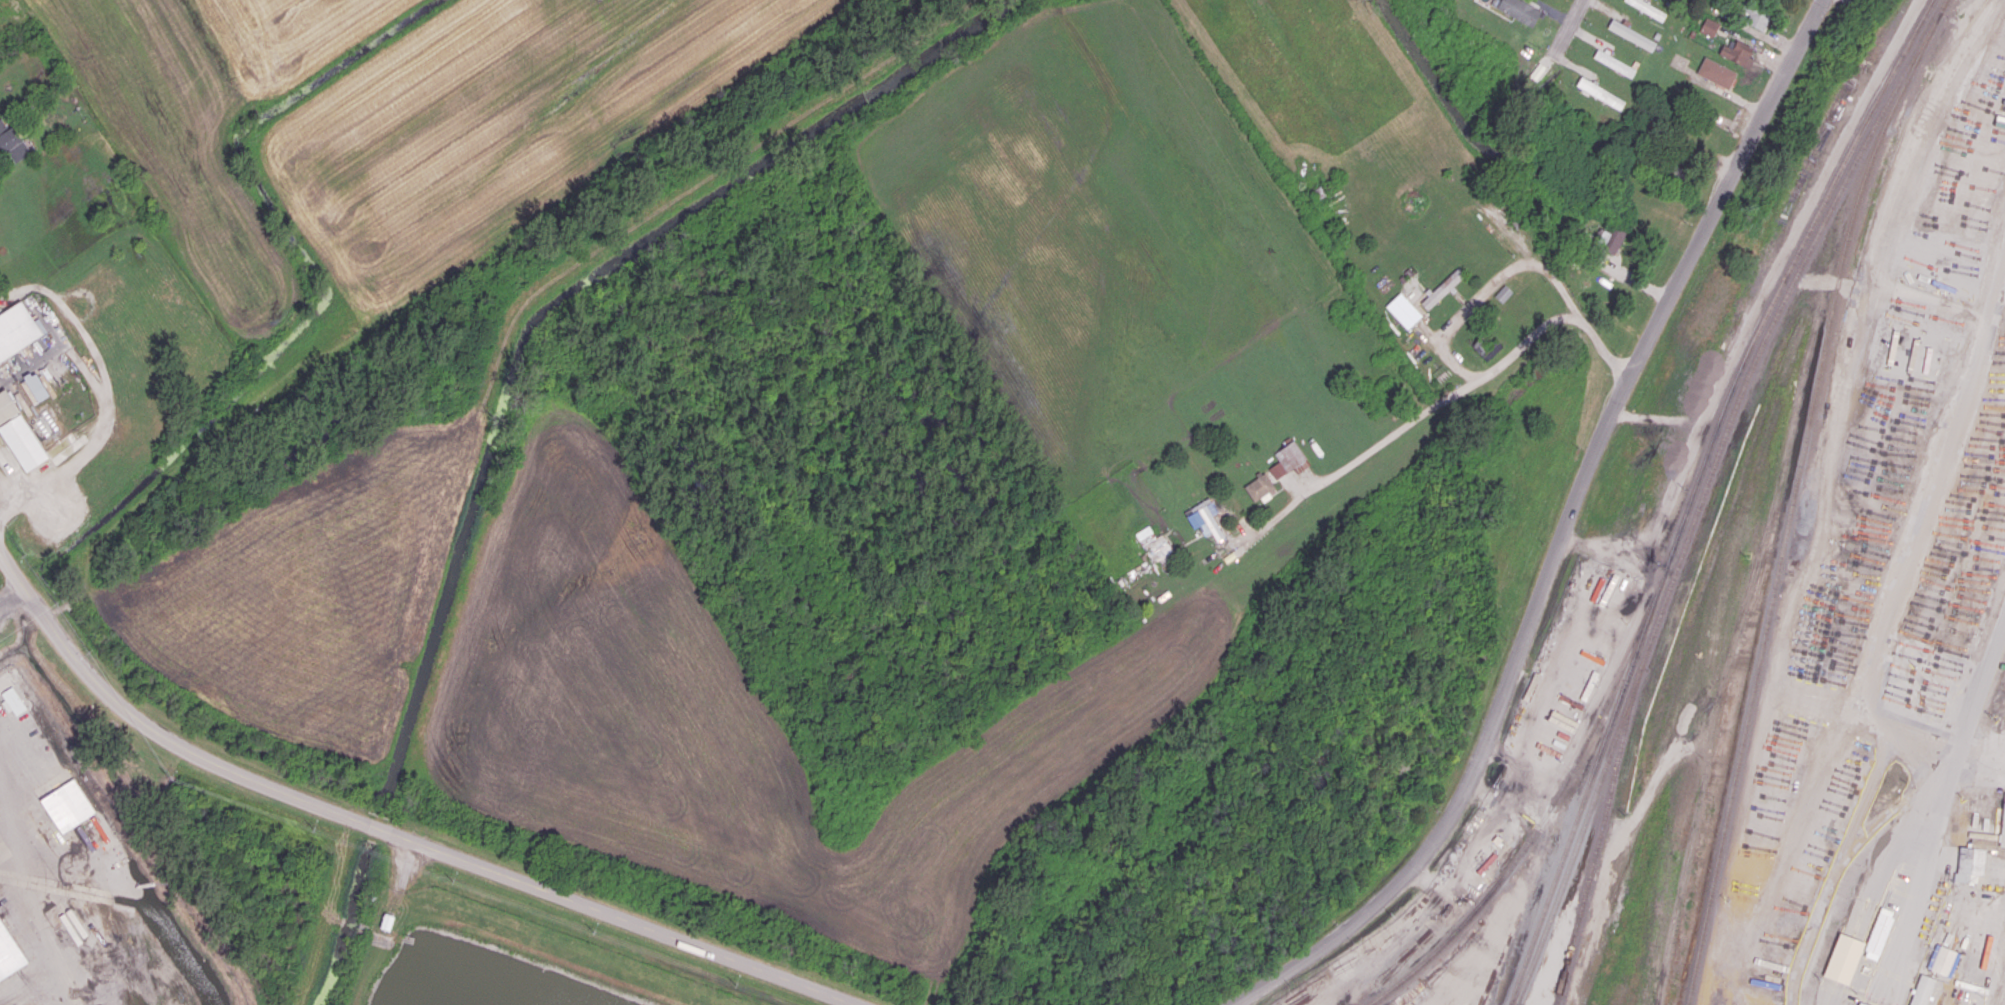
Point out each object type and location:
building: (1647, 7)
building: (1518, 10)
building: (1758, 19)
road: (1575, 27)
building: (1709, 27)
building: (1631, 35)
building: (1736, 53)
building: (1614, 63)
building: (1716, 72)
building: (1600, 93)
crop: (344, 114)
building: (13, 141)
building: (1612, 239)
road: (1487, 286)
building: (1441, 289)
road: (10, 293)
building: (1502, 293)
building: (1403, 310)
building: (18, 329)
building: (36, 386)
road: (106, 406)
road: (1433, 411)
building: (20, 432)
building: (1288, 460)
building: (1259, 486)
railway: (1695, 490)
road: (6, 493)
railway: (1795, 494)
building: (1206, 520)
road: (1567, 532)
building: (1155, 545)
road: (11, 590)
road: (1883, 628)
crop: (612, 675)
building: (13, 700)
road: (1972, 703)
road: (149, 727)
road: (15, 748)
building: (67, 806)
railway: (1548, 808)
road: (377, 825)
building: (2003, 826)
building: (1976, 852)
road: (1837, 862)
road: (623, 916)
building: (1878, 934)
building: (9, 953)
building: (1843, 958)
building: (1922, 990)
building: (1862, 1003)

